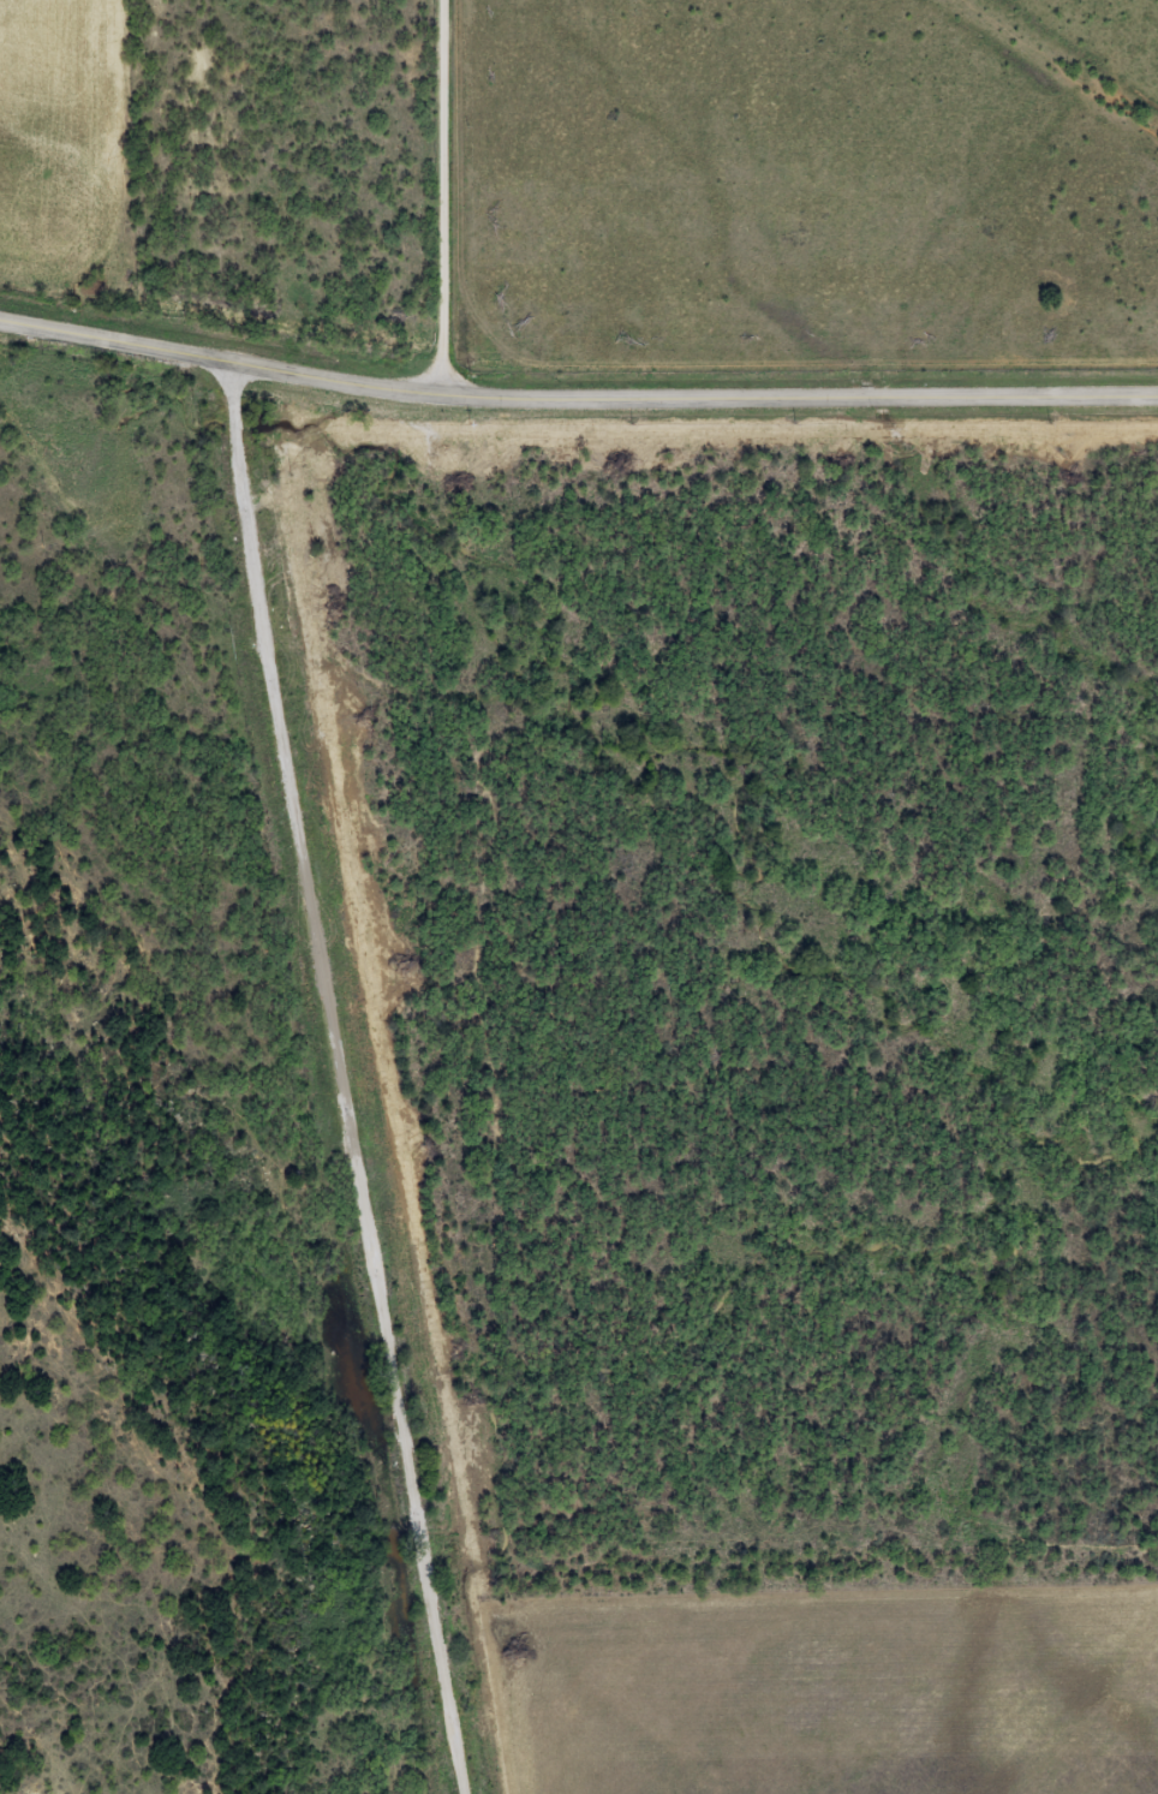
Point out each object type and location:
road: (465, 198)
road: (575, 399)
road: (375, 1074)

